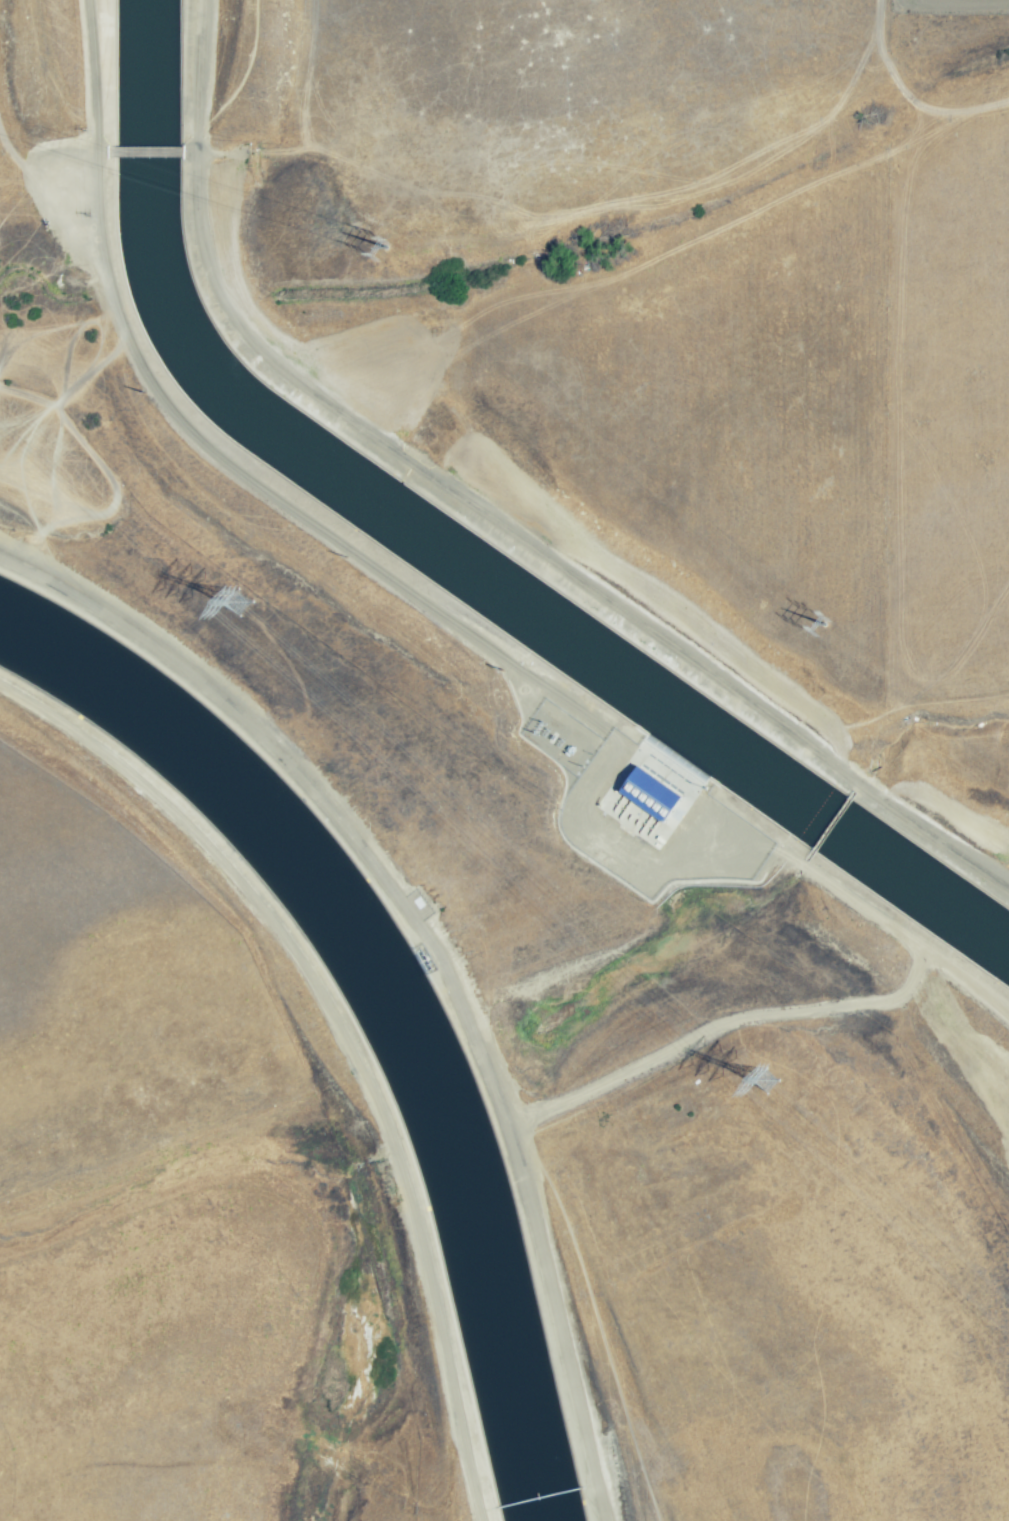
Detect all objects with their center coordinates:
road: (962, 4)
road: (147, 152)
road: (192, 152)
road: (106, 153)
power tower: (398, 244)
road: (271, 494)
road: (485, 513)
power tower: (263, 604)
power tower: (831, 610)
road: (307, 786)
building: (650, 793)
road: (717, 1025)
power tower: (787, 1081)
road: (559, 1322)

